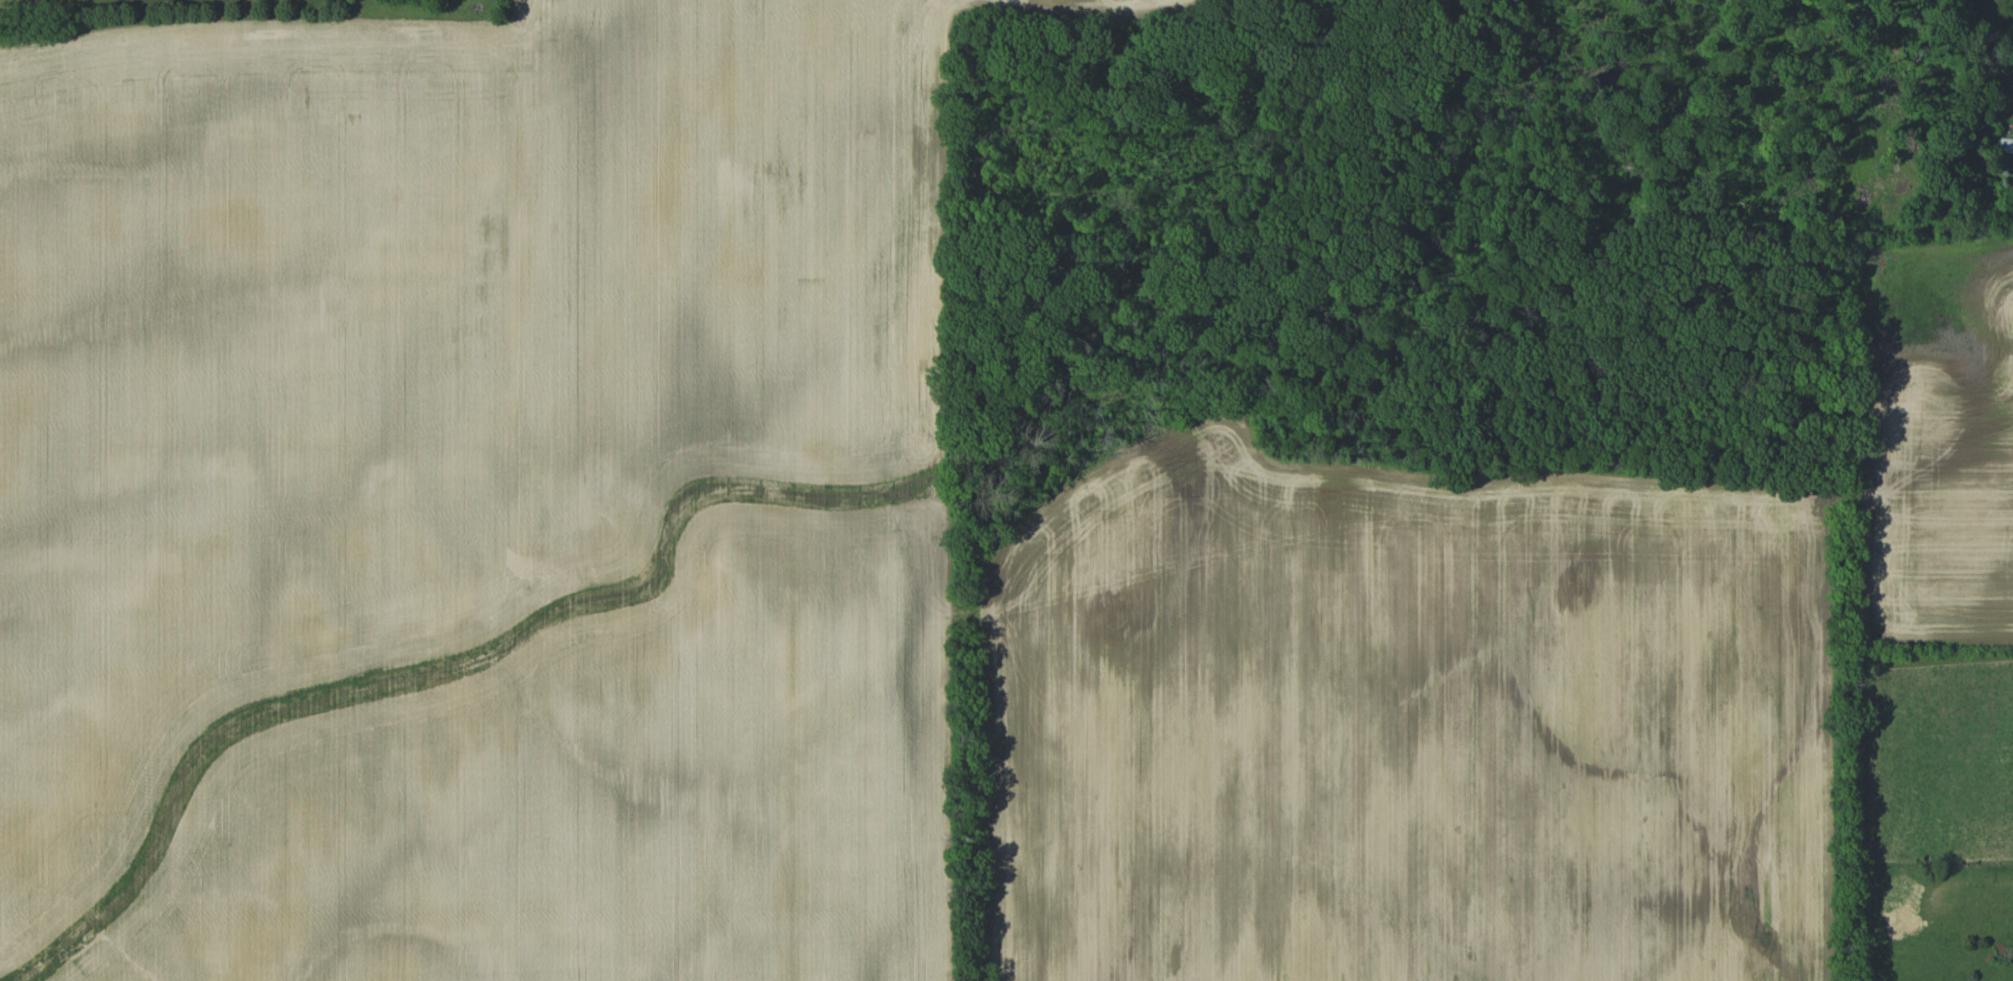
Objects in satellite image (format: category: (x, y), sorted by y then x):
building: (2006, 145)

